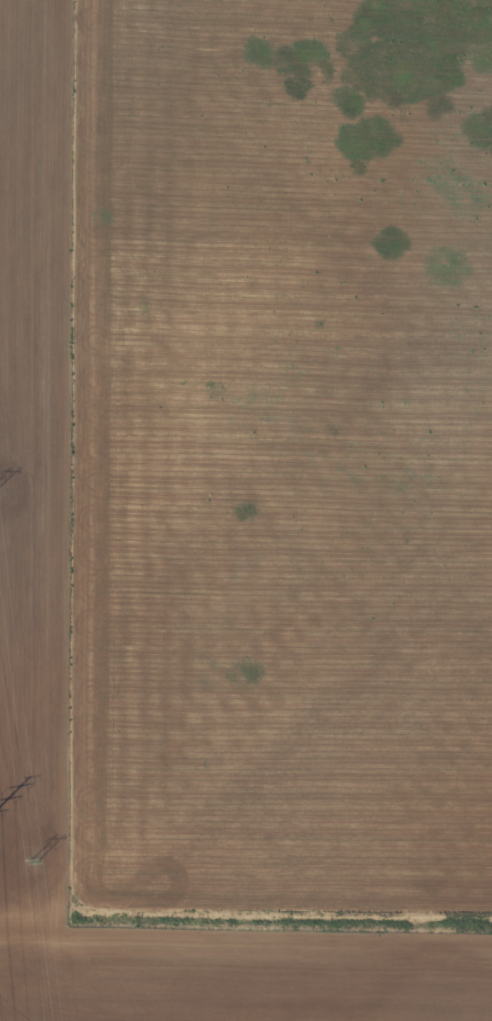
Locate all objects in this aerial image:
power tower: (34, 859)

